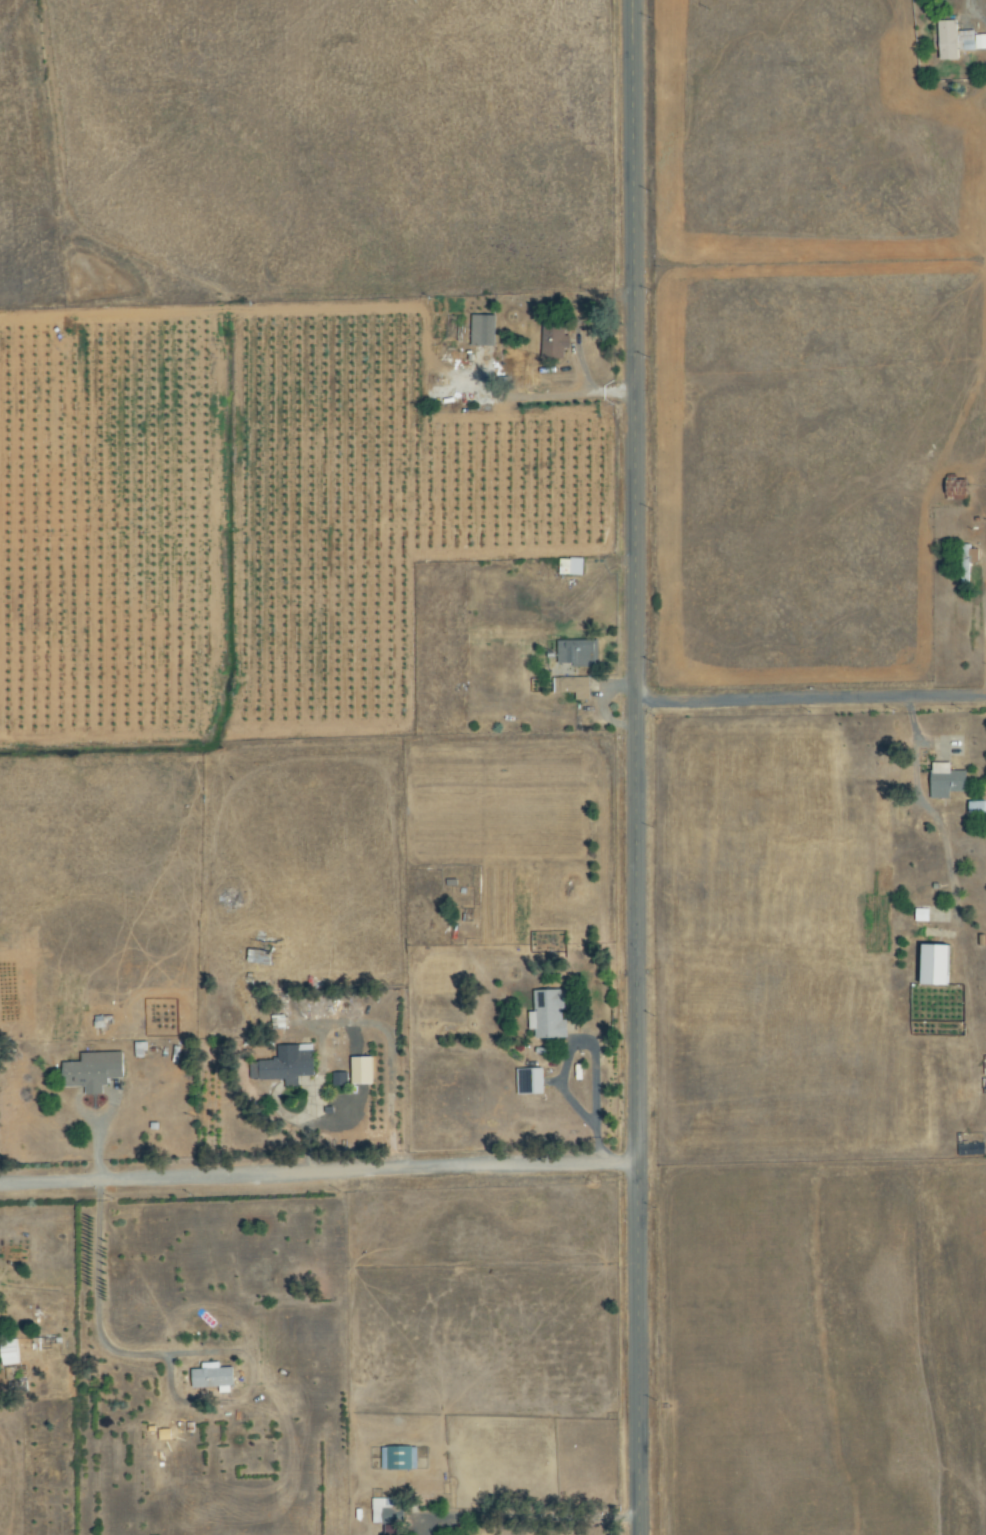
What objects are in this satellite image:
road: (977, 11)
building: (959, 40)
building: (483, 330)
building: (959, 489)
building: (969, 562)
building: (572, 566)
building: (577, 653)
building: (574, 687)
road: (810, 698)
road: (635, 767)
building: (948, 781)
building: (261, 957)
building: (940, 965)
building: (550, 1015)
building: (292, 1064)
building: (94, 1072)
building: (340, 1079)
building: (531, 1081)
road: (587, 1116)
road: (317, 1172)
building: (214, 1377)
building: (166, 1435)
building: (400, 1459)
building: (385, 1511)
building: (393, 1529)

